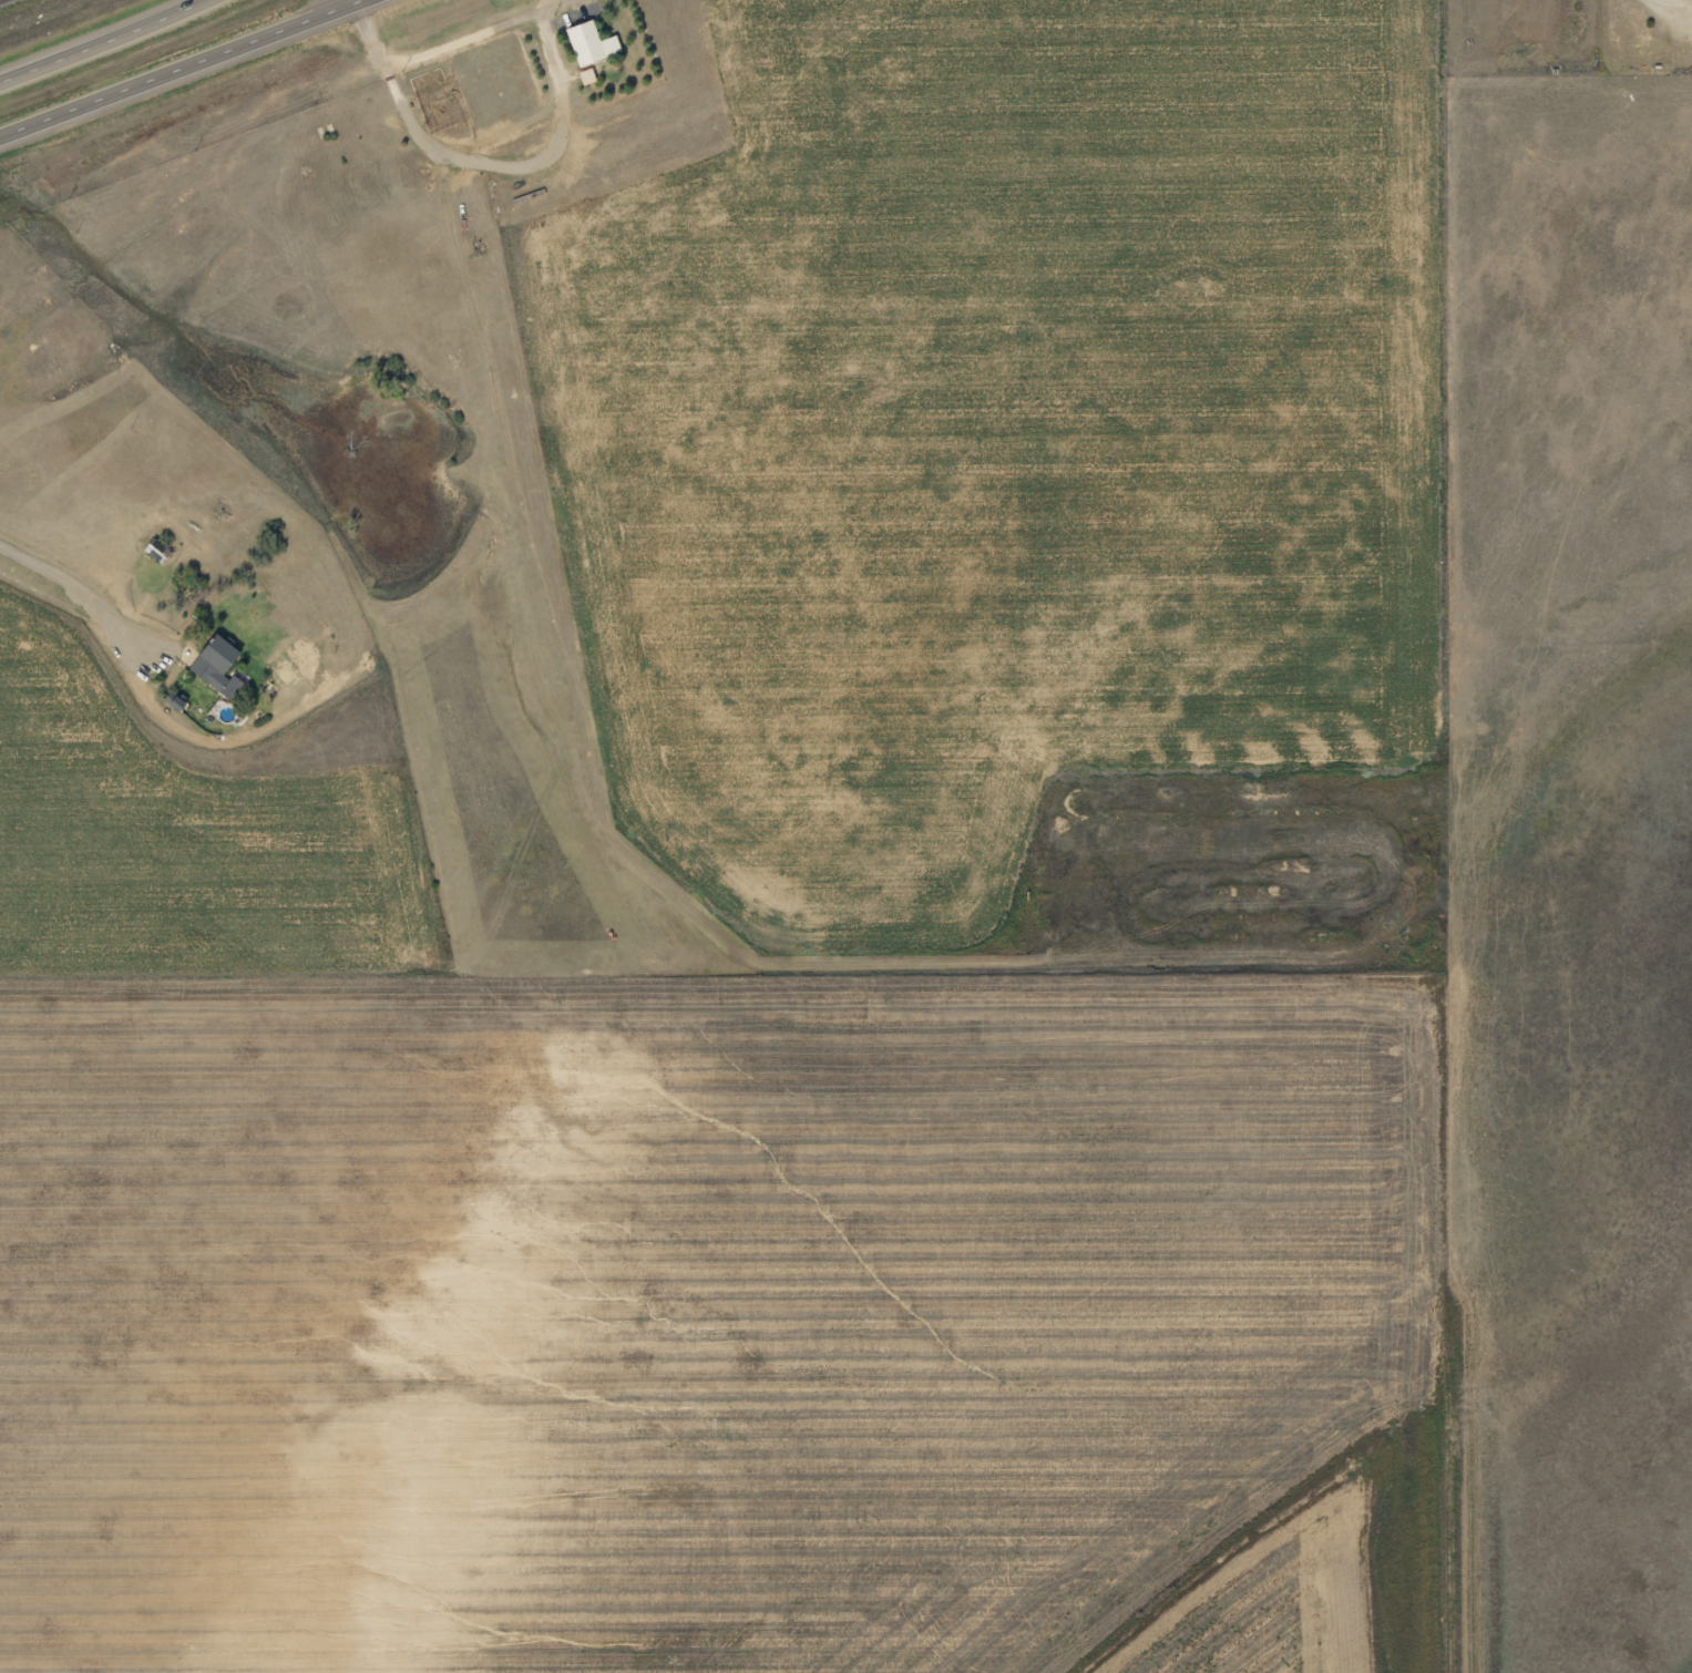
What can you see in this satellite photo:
railway: (0, 0)
road: (102, 42)
building: (592, 43)
road: (182, 69)
road: (1238, 97)
railway: (187, 146)
road: (476, 163)
road: (1521, 343)
building: (218, 661)

